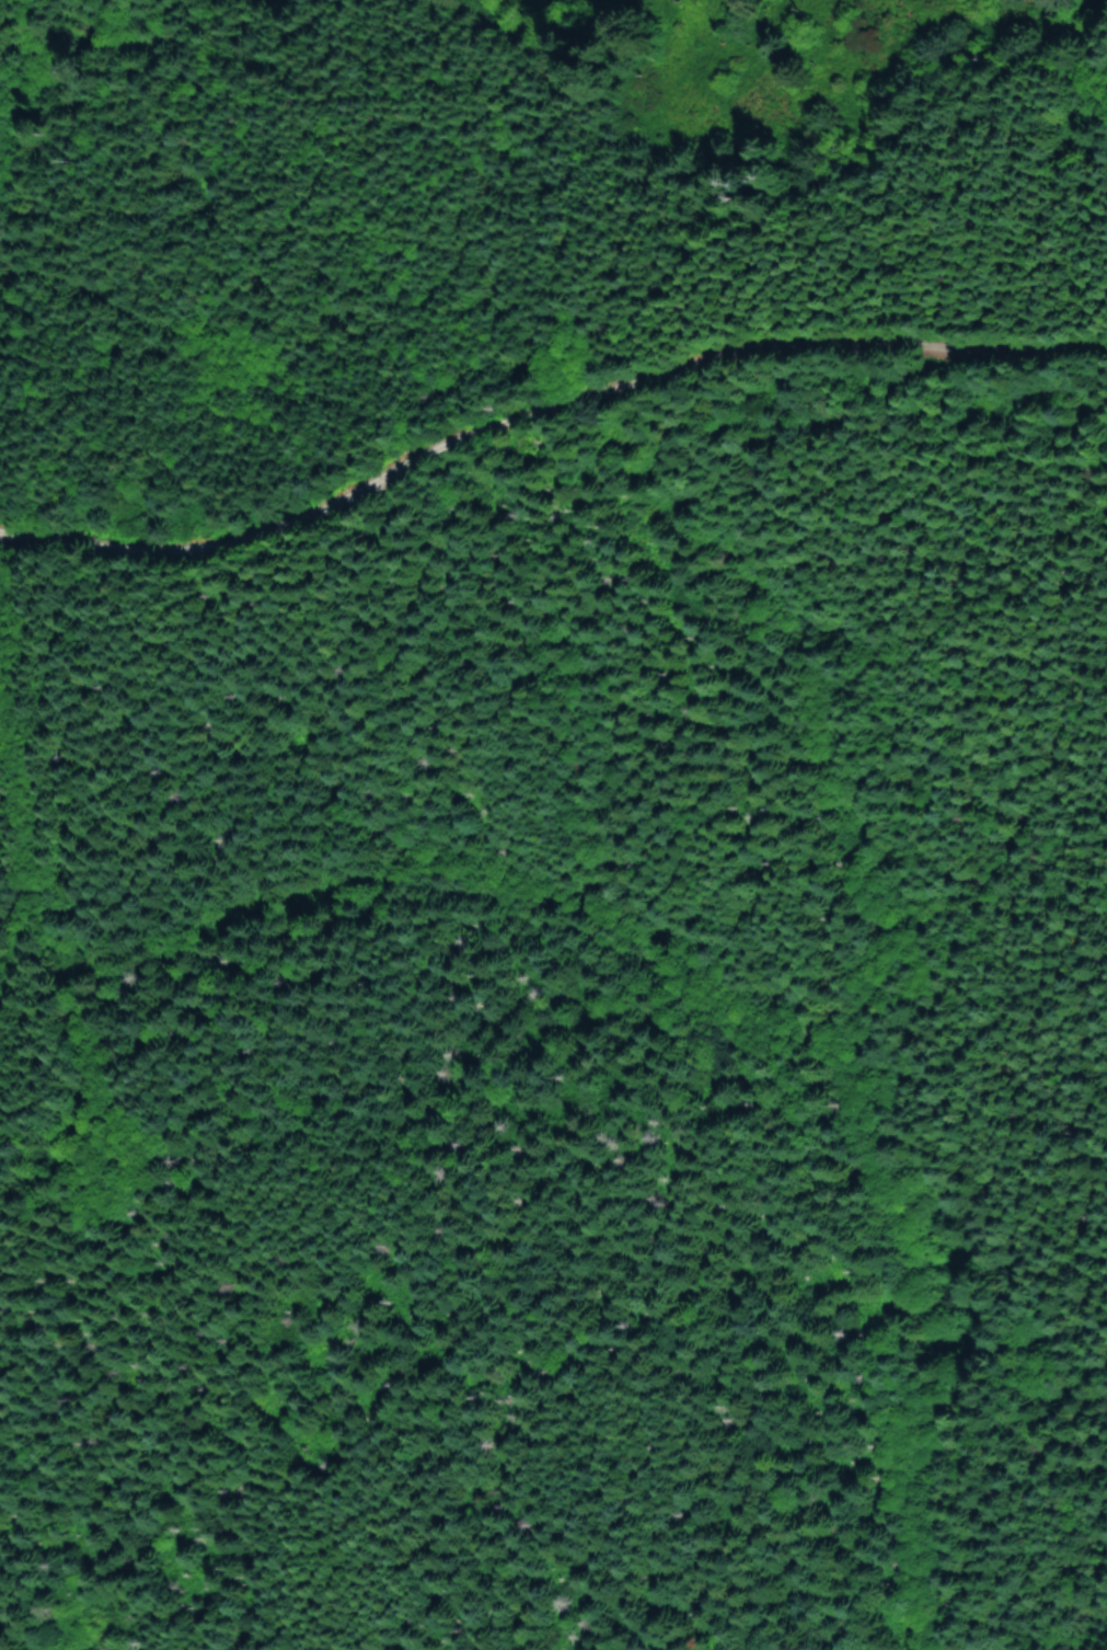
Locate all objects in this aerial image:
road: (544, 406)
road: (22, 709)

